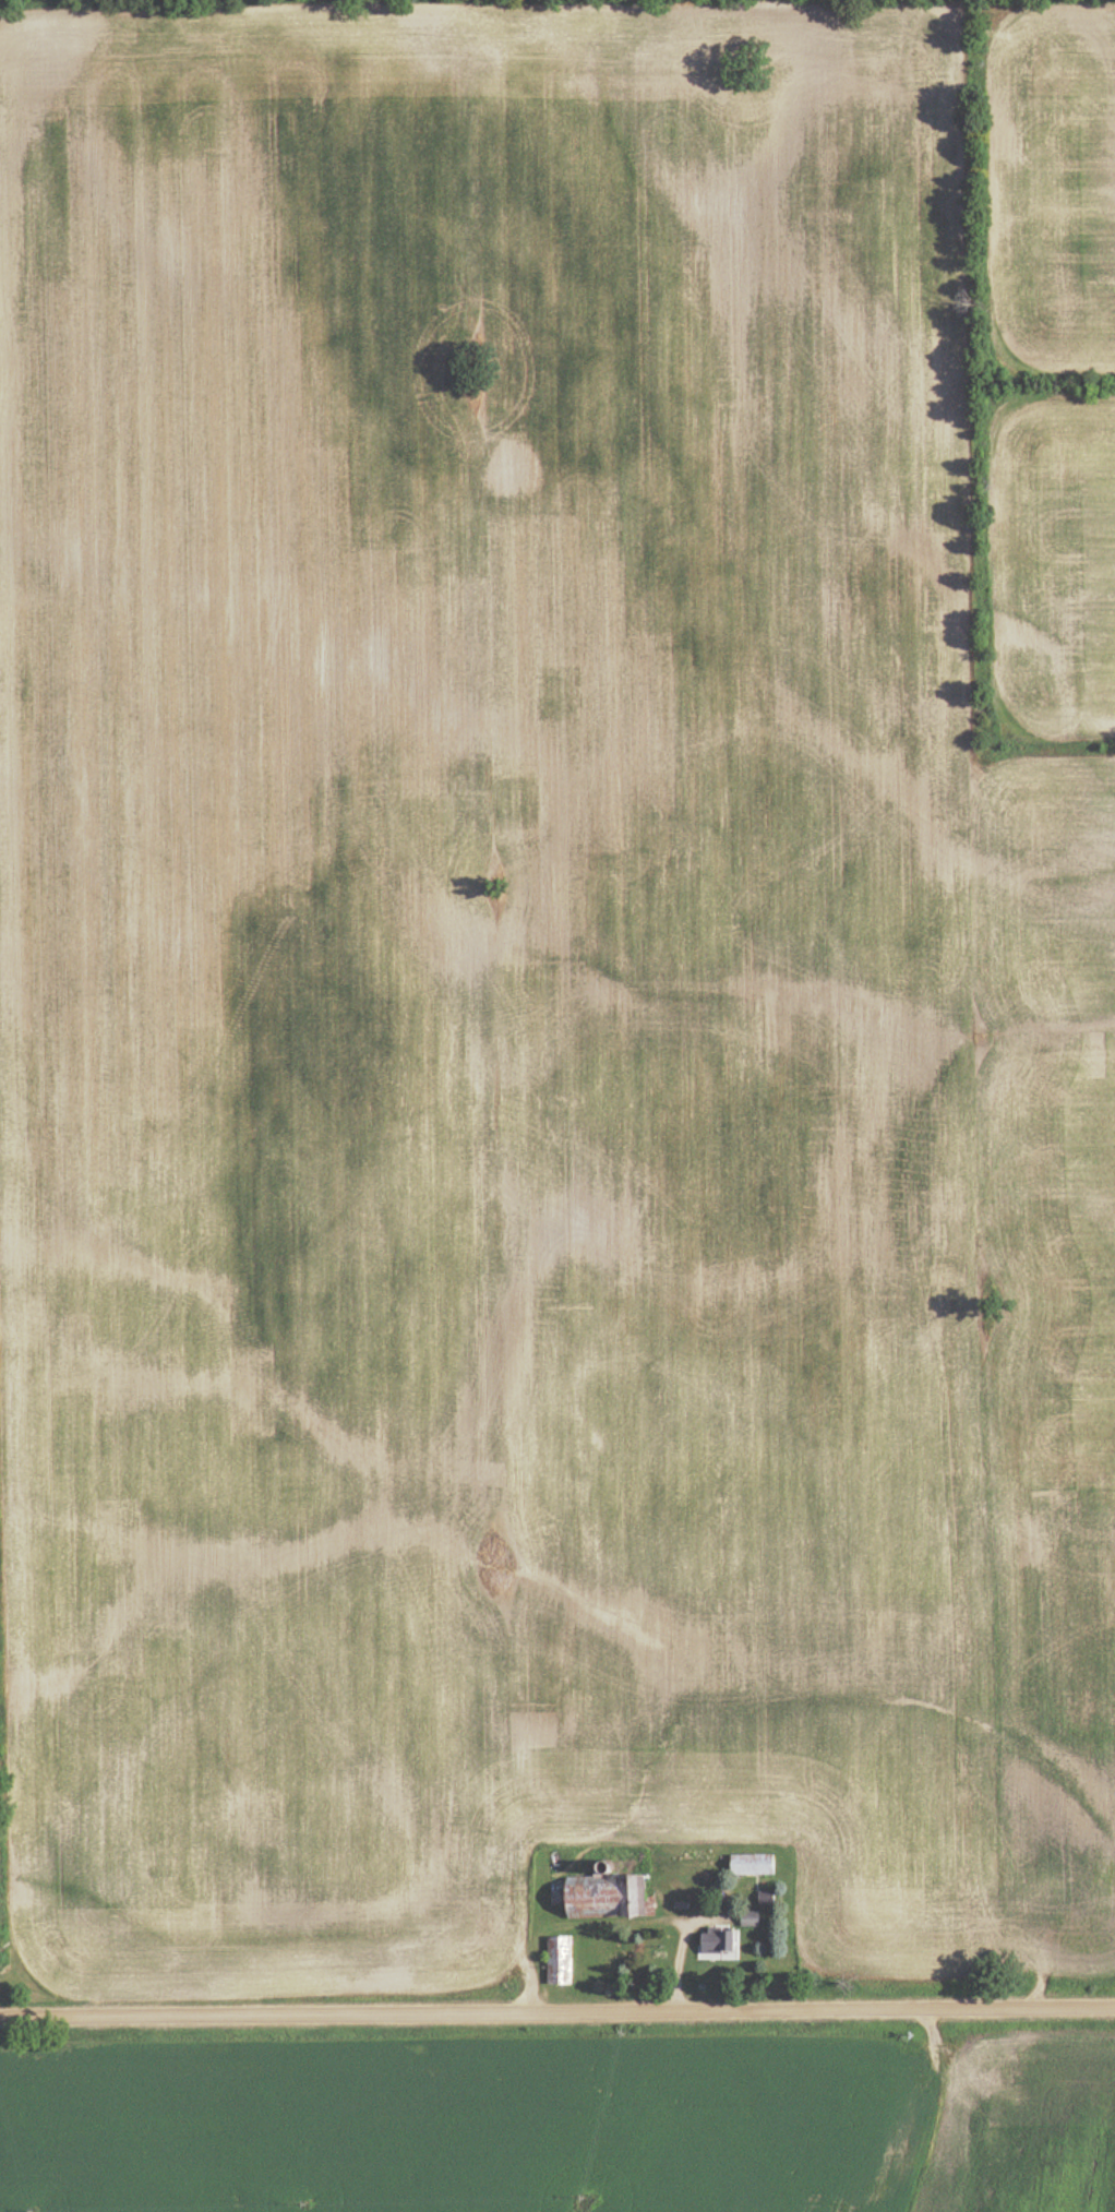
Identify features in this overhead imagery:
building: (757, 1866)
building: (610, 1898)
building: (770, 1898)
building: (754, 1920)
building: (723, 1941)
building: (563, 1961)
road: (556, 2010)

